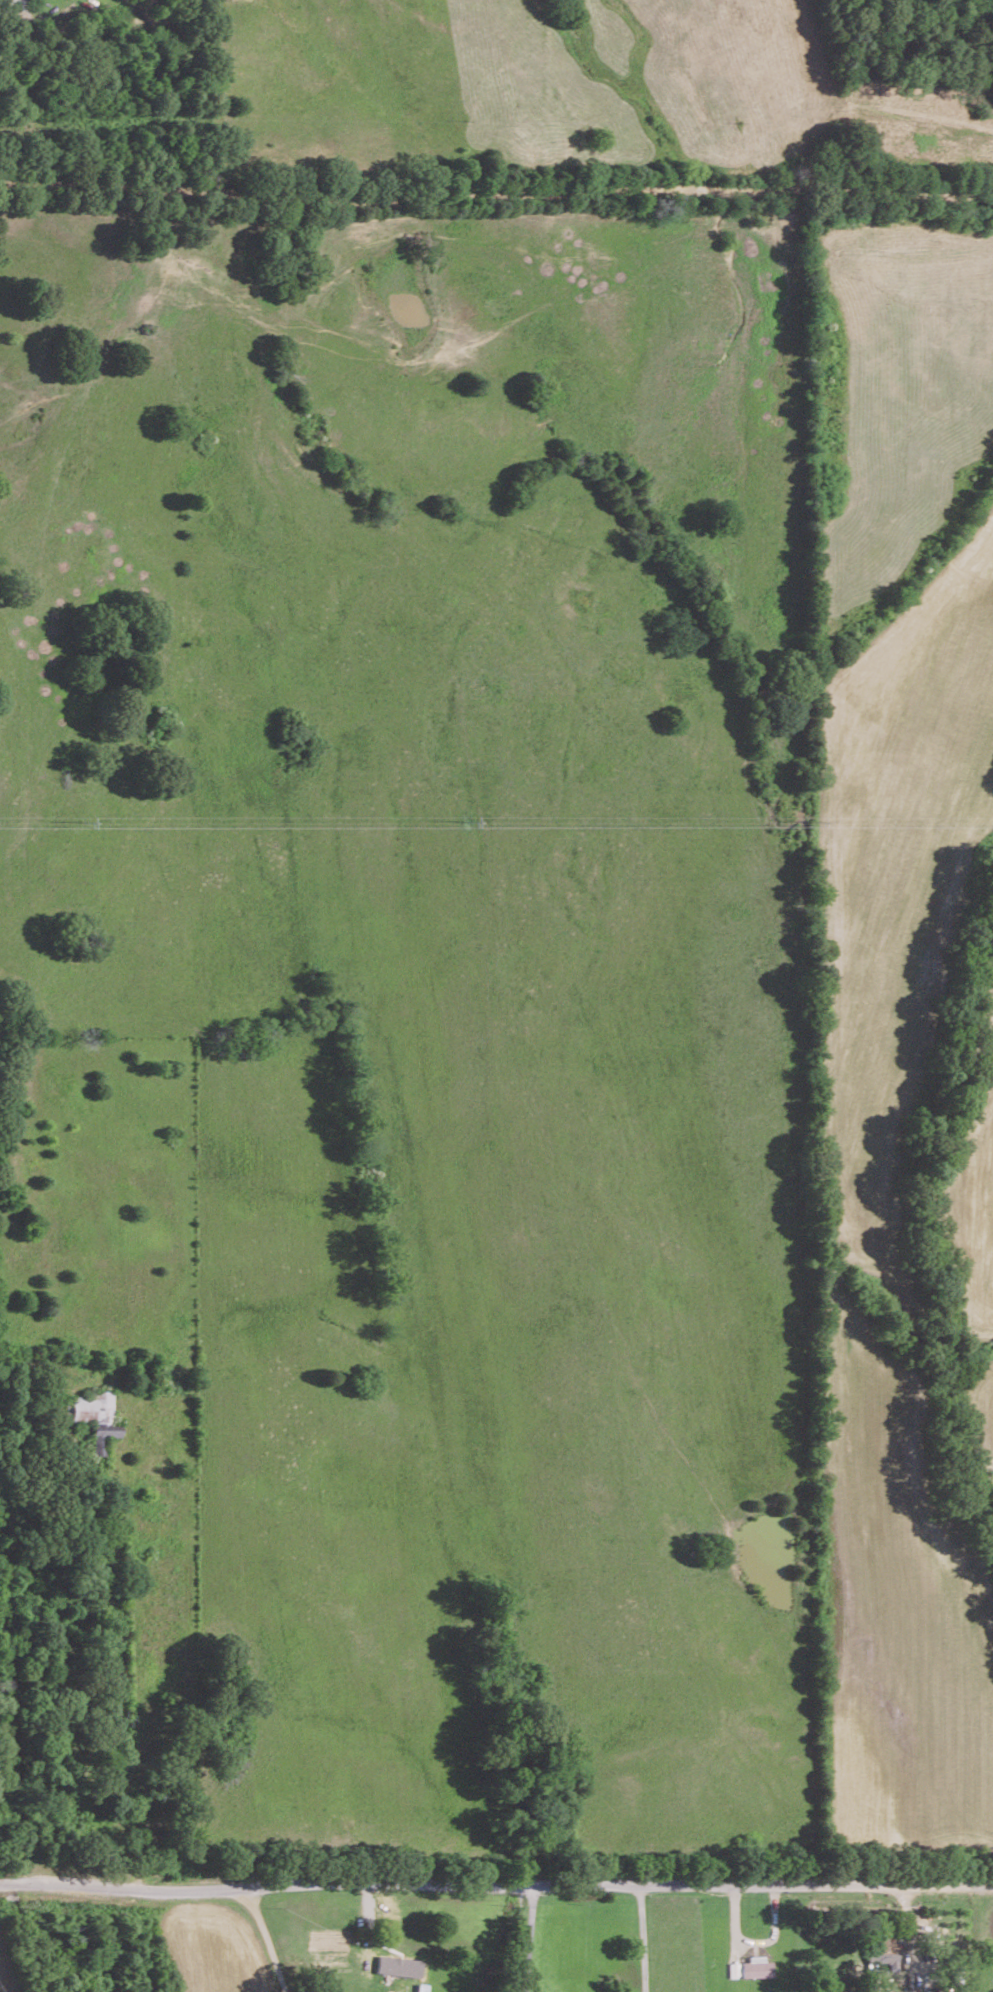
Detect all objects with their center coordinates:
road: (496, 191)
building: (97, 1416)
road: (496, 1884)
road: (529, 1937)
road: (645, 1937)
road: (260, 1939)
building: (883, 1950)
building: (398, 1965)
building: (756, 1966)

